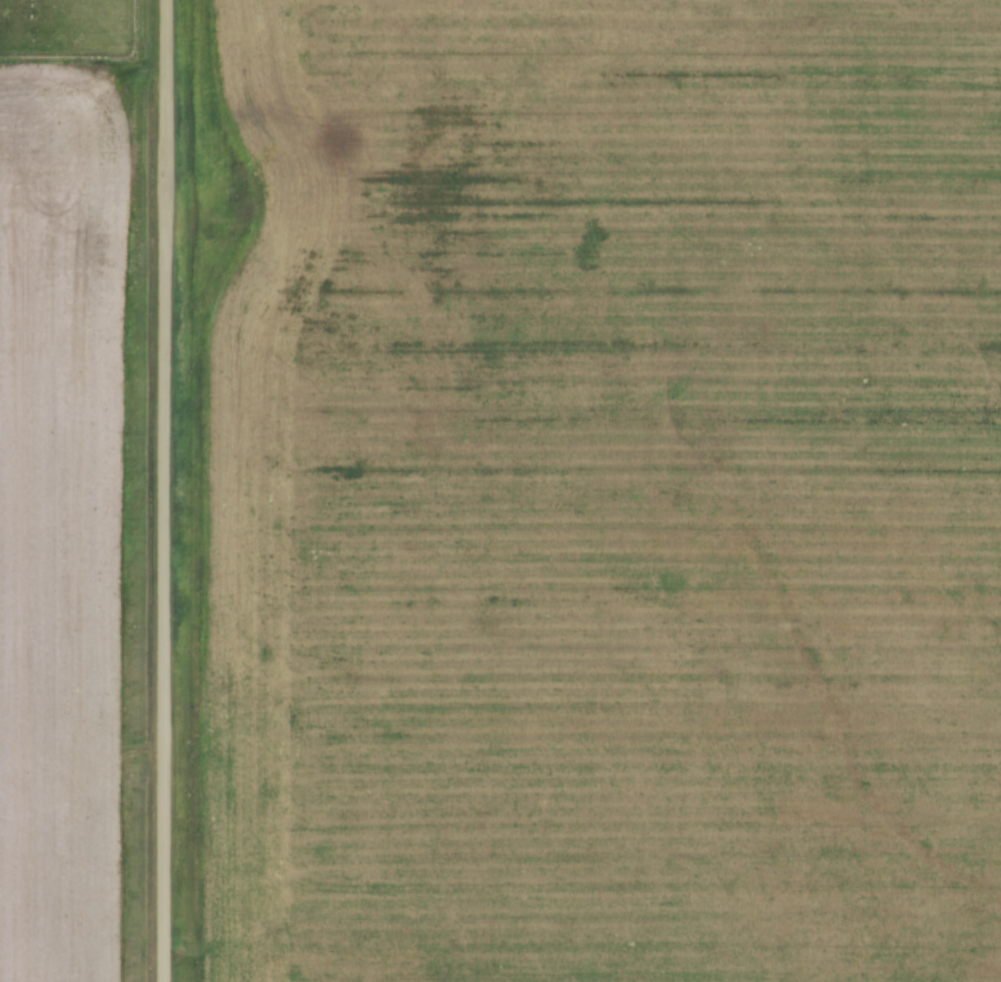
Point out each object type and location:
road: (164, 491)

